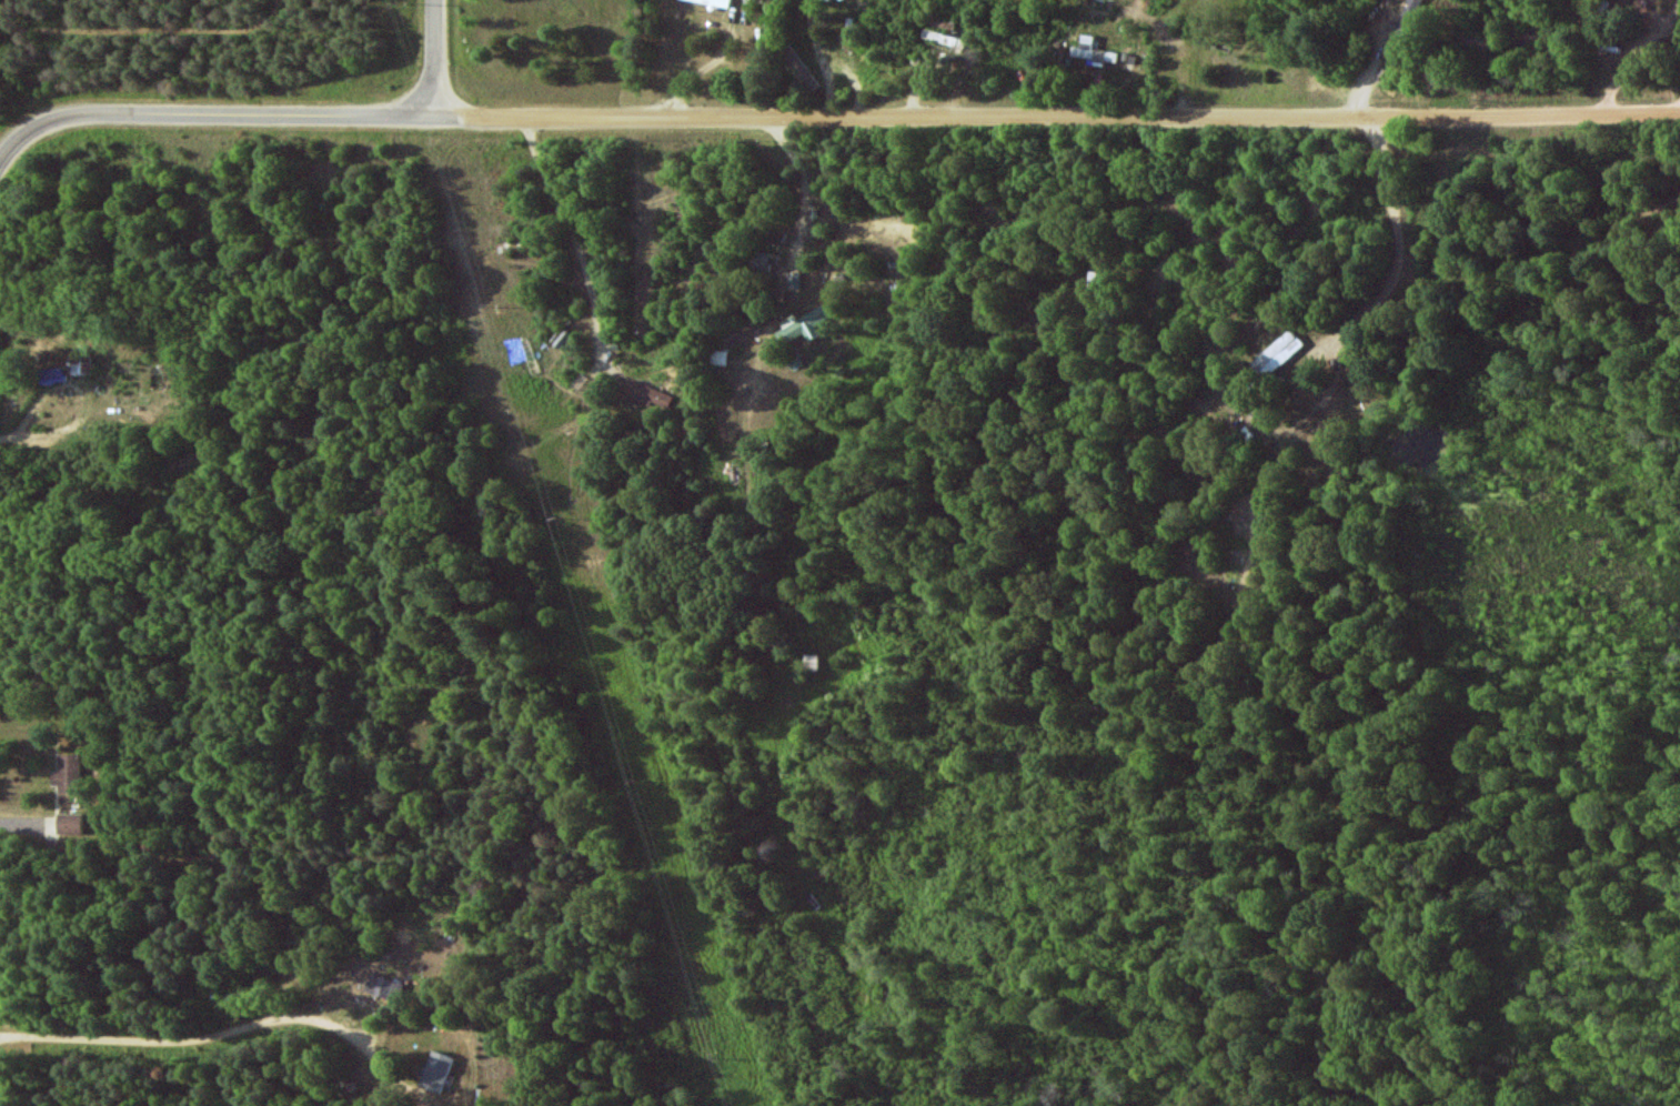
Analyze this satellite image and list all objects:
building: (715, 2)
road: (706, 28)
road: (123, 33)
building: (945, 39)
building: (1092, 50)
road: (1626, 57)
road: (436, 59)
road: (1674, 74)
road: (852, 119)
road: (13, 150)
road: (575, 237)
building: (761, 261)
building: (794, 279)
building: (803, 324)
building: (1277, 353)
building: (718, 358)
building: (81, 364)
road: (758, 368)
building: (648, 395)
building: (812, 662)
building: (69, 773)
building: (70, 823)
building: (383, 986)
road: (160, 1040)
building: (435, 1072)

